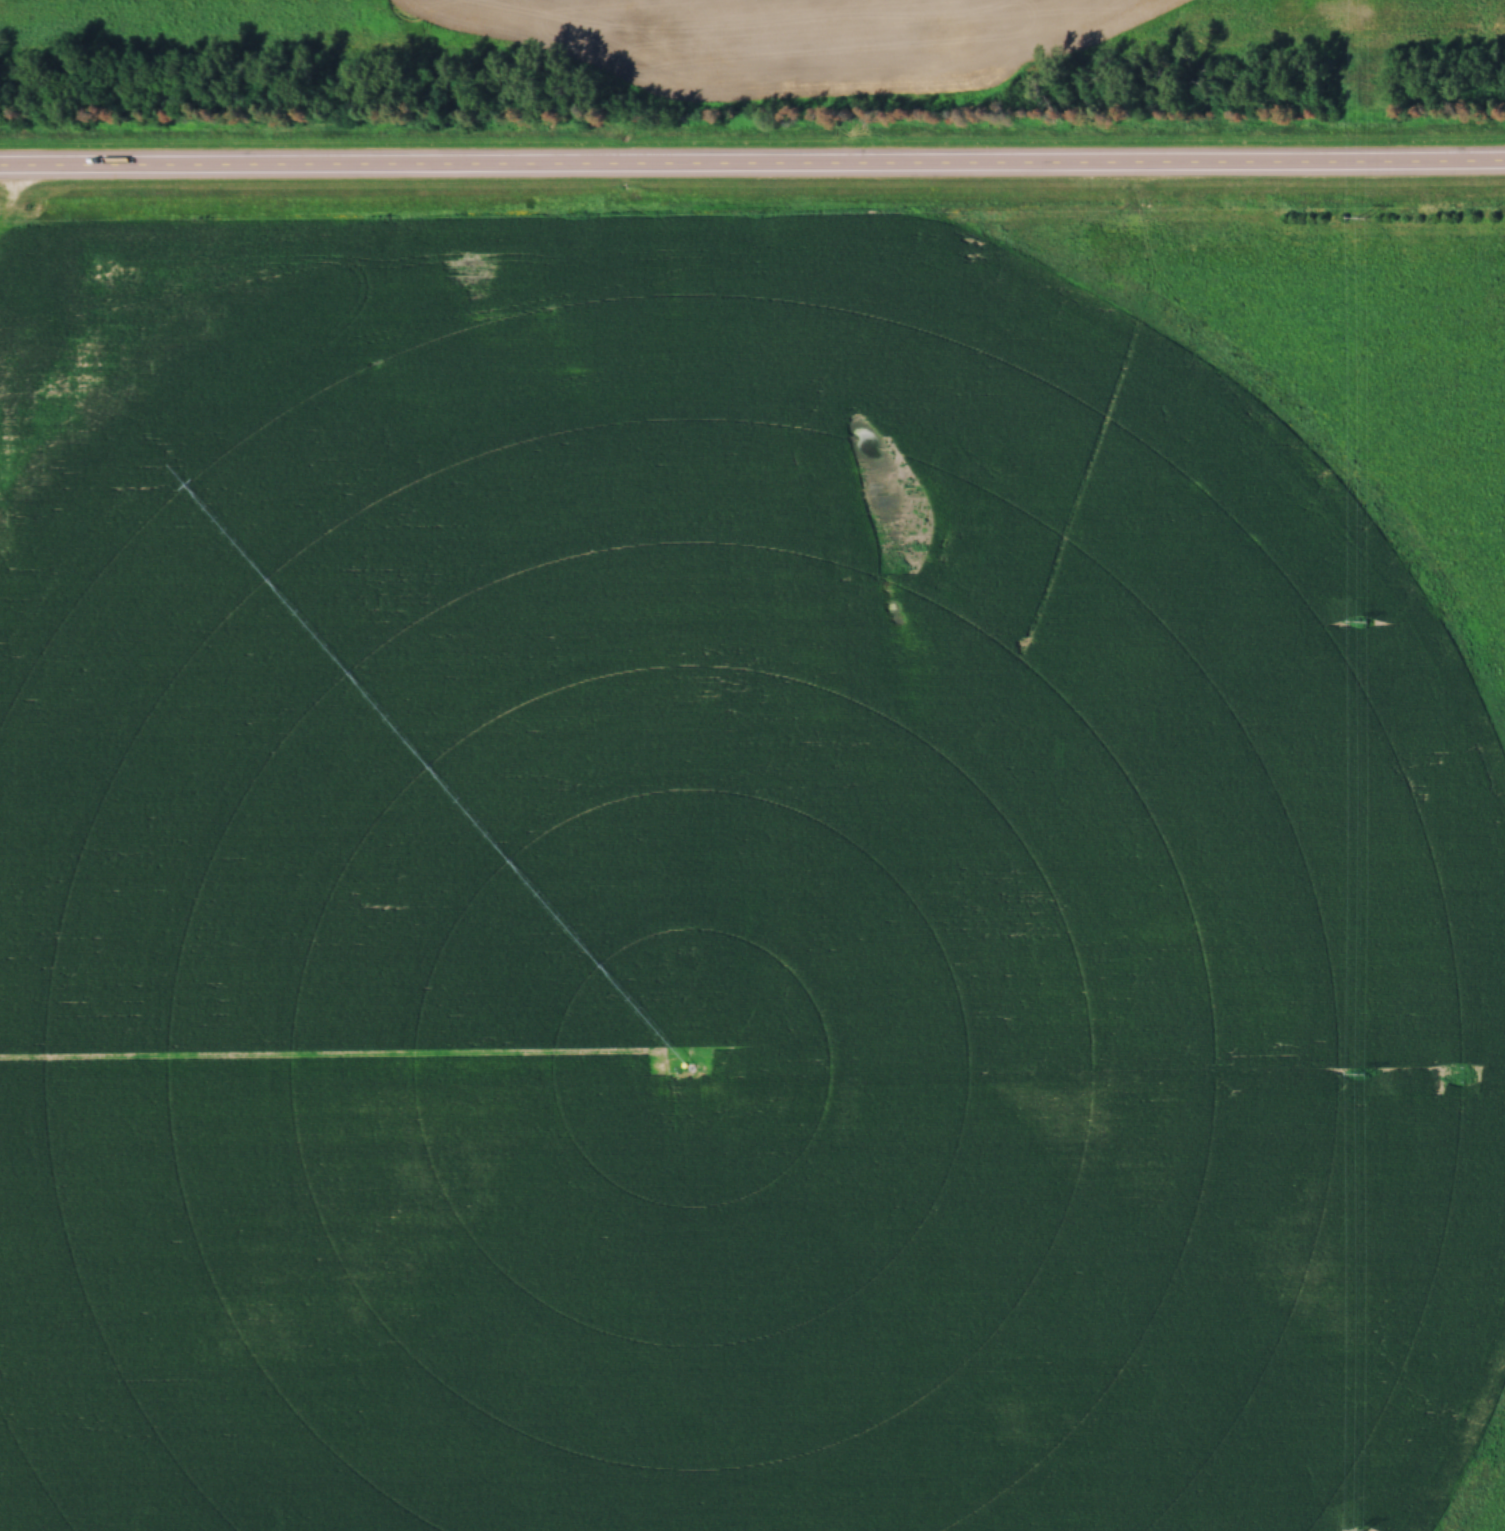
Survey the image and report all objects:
road: (752, 166)
power tower: (1361, 220)
power tower: (1361, 623)
power tower: (1358, 1076)
power tower: (1357, 1530)

